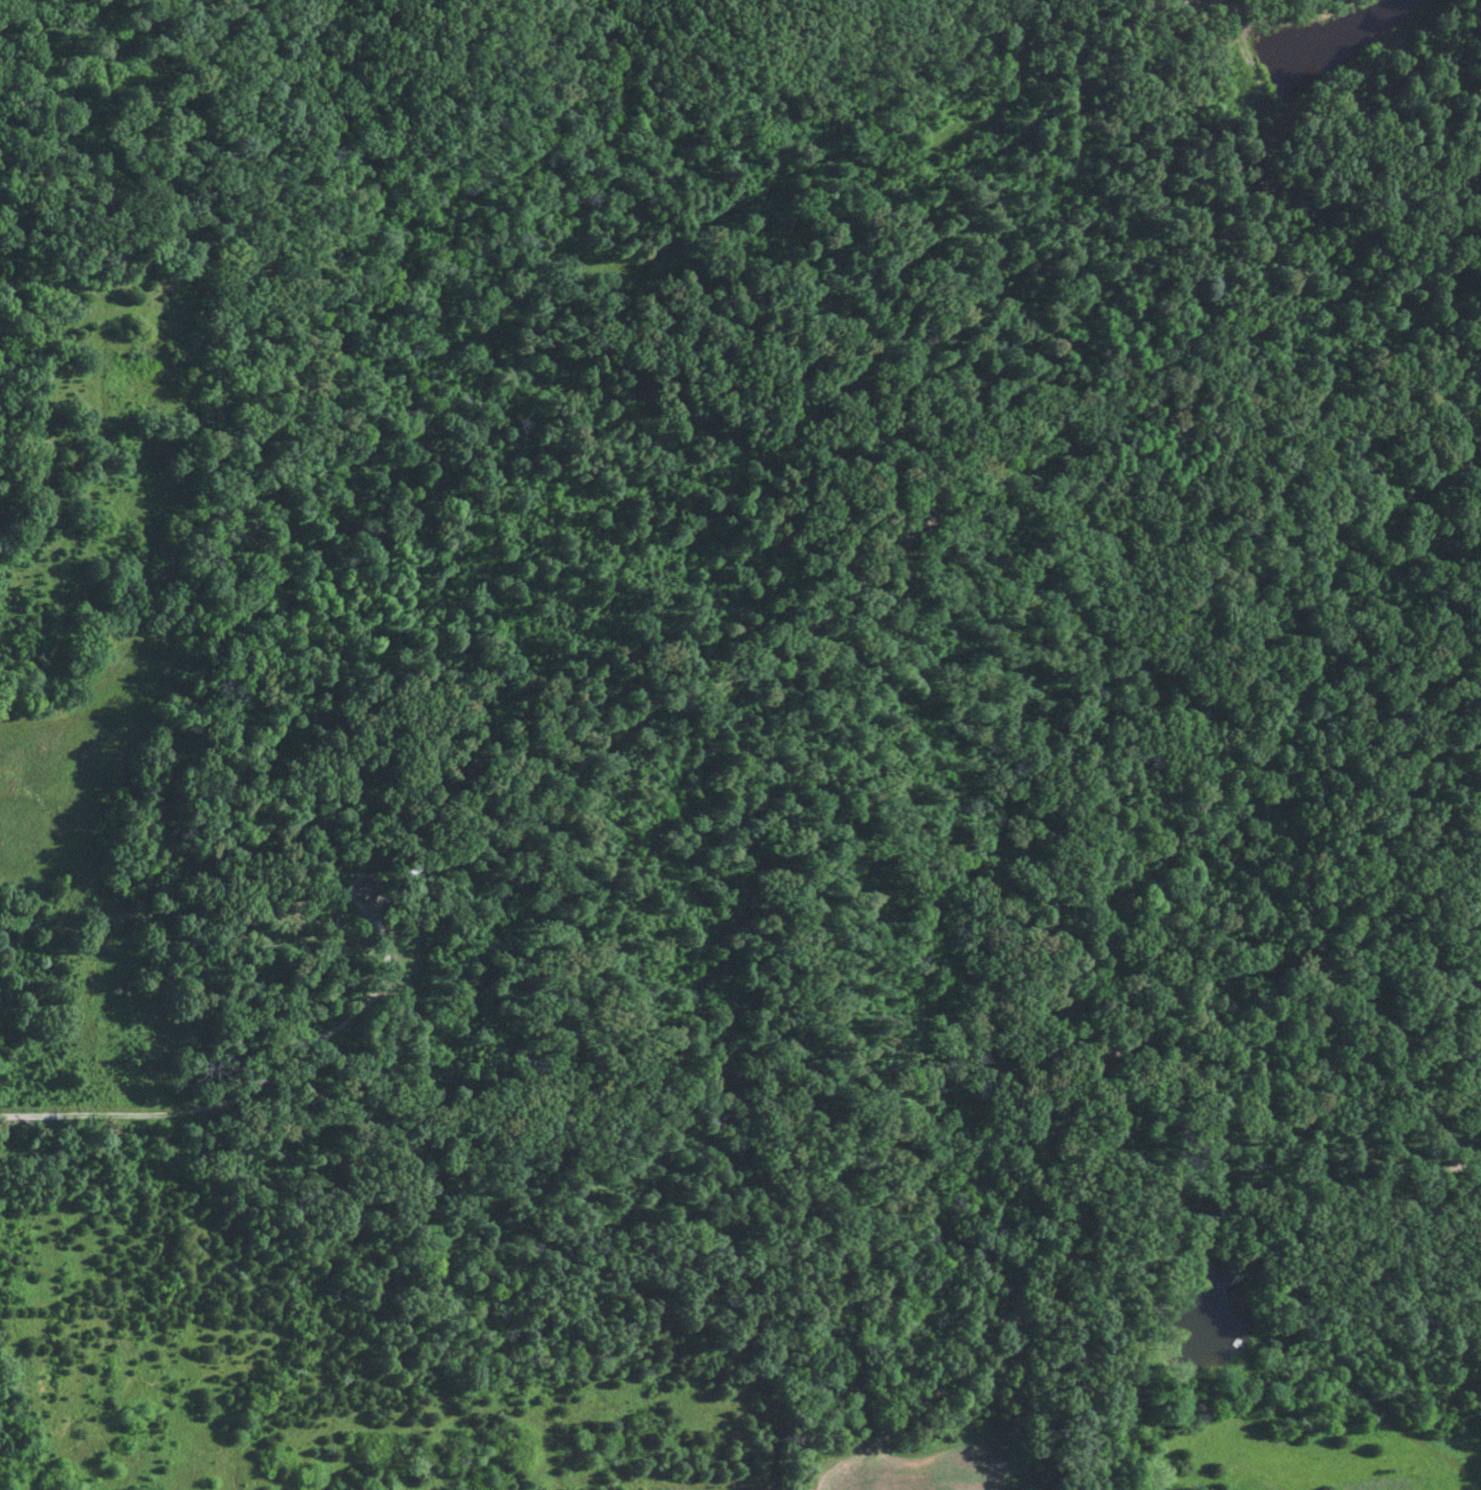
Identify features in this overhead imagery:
building: (360, 890)

